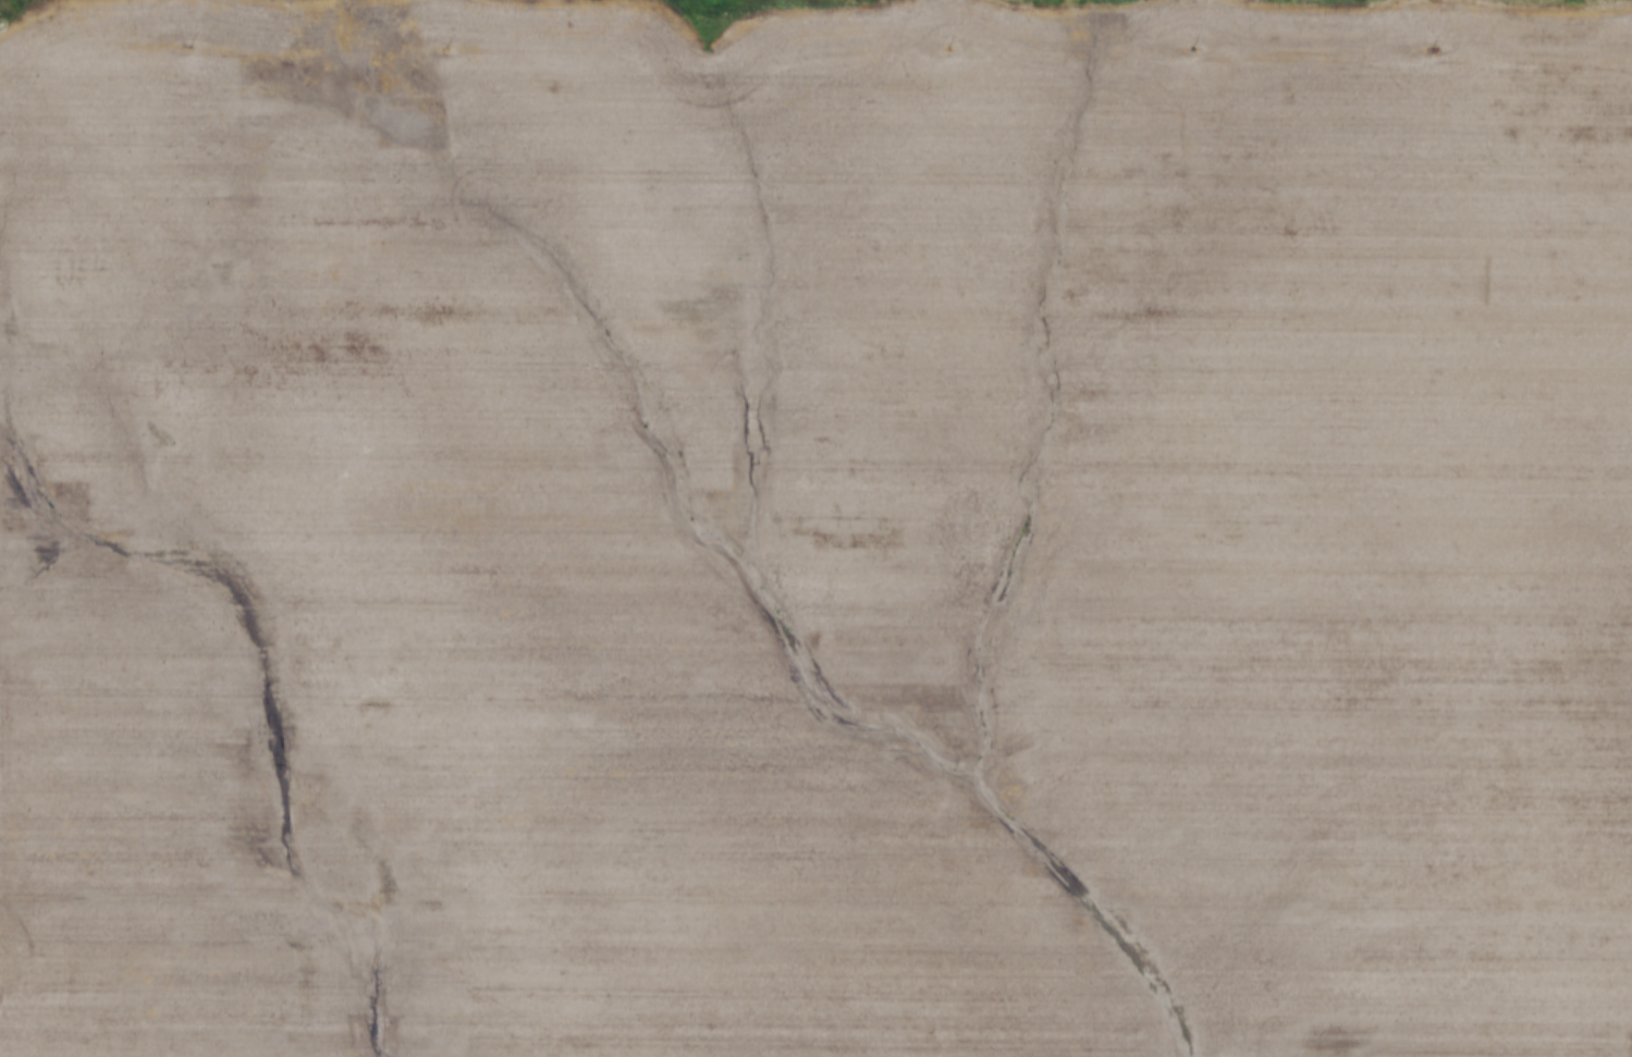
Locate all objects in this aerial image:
road: (1066, 2)

